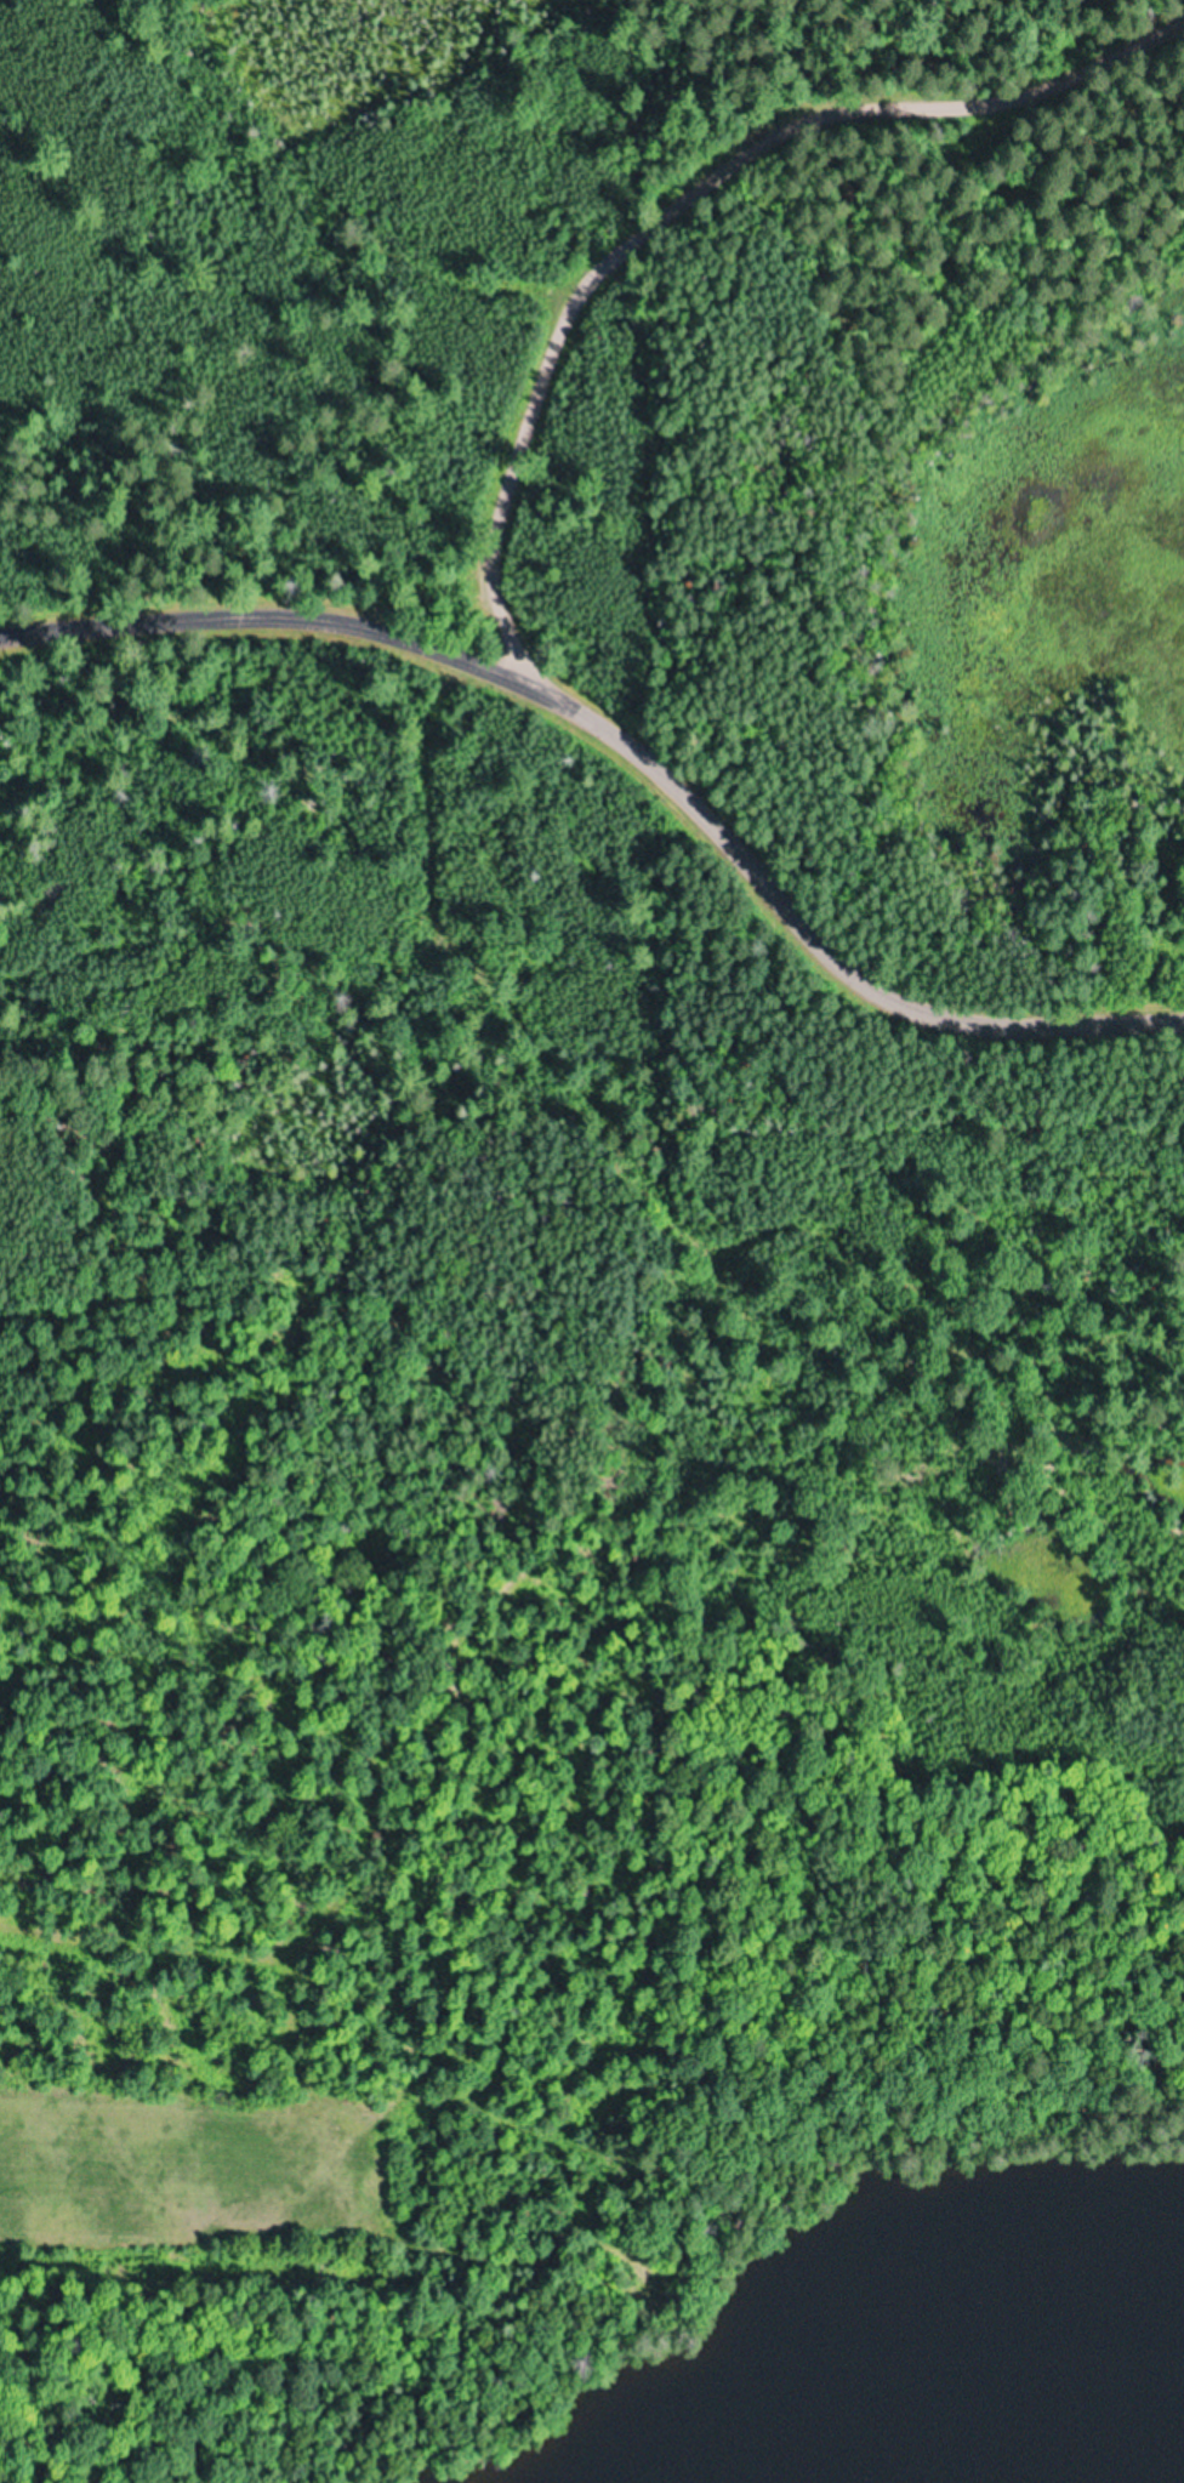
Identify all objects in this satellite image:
road: (666, 169)
road: (621, 762)
airport runway: (167, 2175)

